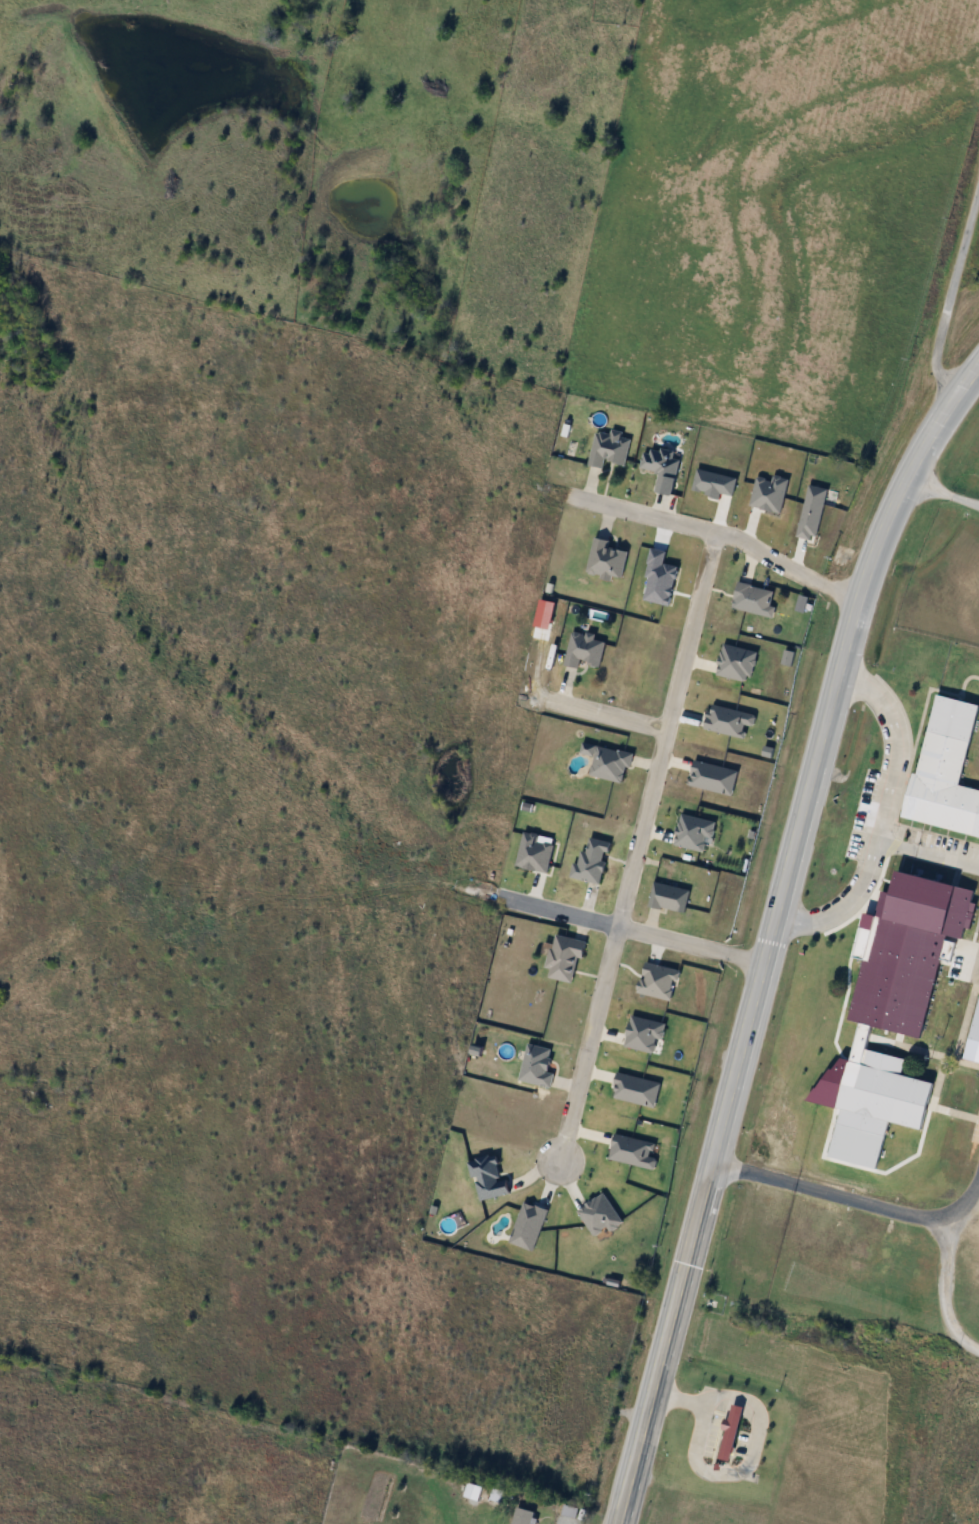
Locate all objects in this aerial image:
road: (952, 296)
building: (610, 449)
road: (935, 485)
road: (969, 498)
road: (719, 534)
building: (608, 561)
building: (755, 600)
building: (586, 651)
road: (606, 715)
road: (904, 741)
building: (612, 765)
building: (946, 769)
road: (638, 850)
road: (932, 852)
building: (593, 860)
road: (844, 903)
road: (629, 929)
road: (771, 931)
building: (566, 958)
building: (892, 1012)
building: (974, 1042)
building: (539, 1066)
road: (754, 1173)
road: (967, 1202)
road: (872, 1205)
road: (949, 1288)
building: (731, 1431)
road: (752, 1447)
building: (523, 1516)

